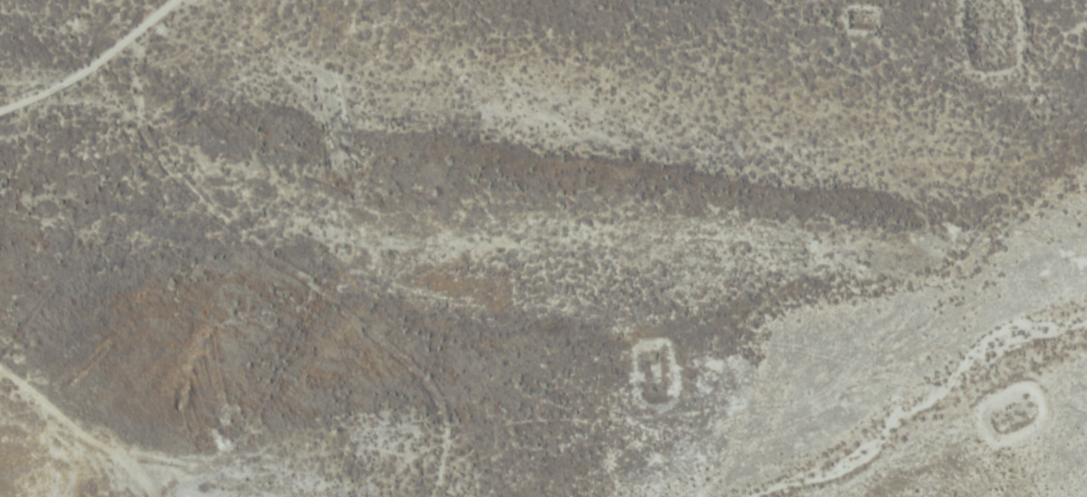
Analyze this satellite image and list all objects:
road: (91, 63)

